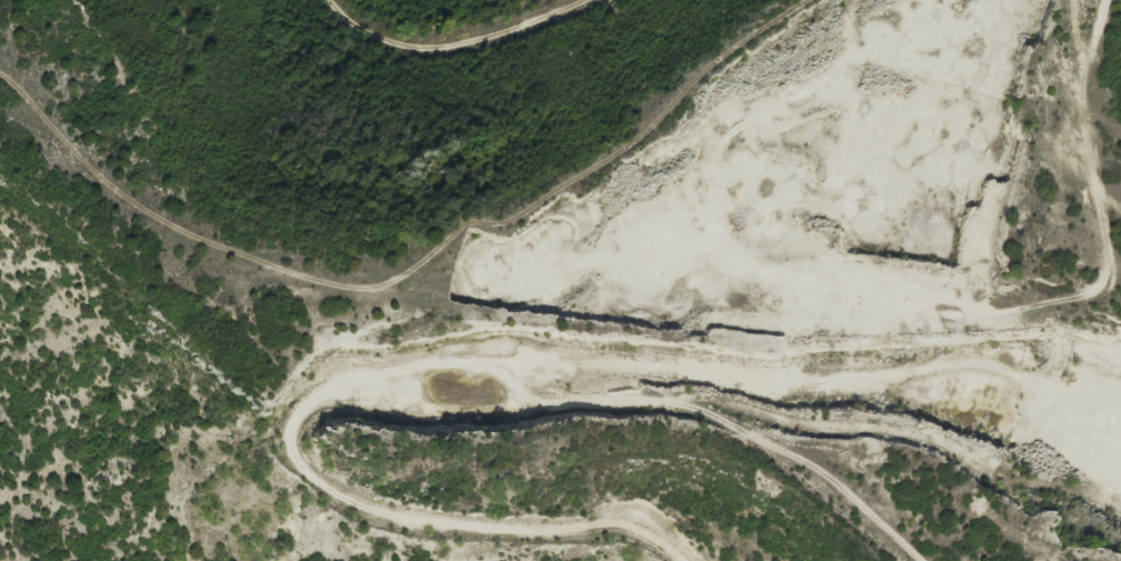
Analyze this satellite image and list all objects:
road: (1074, 120)
road: (533, 244)

